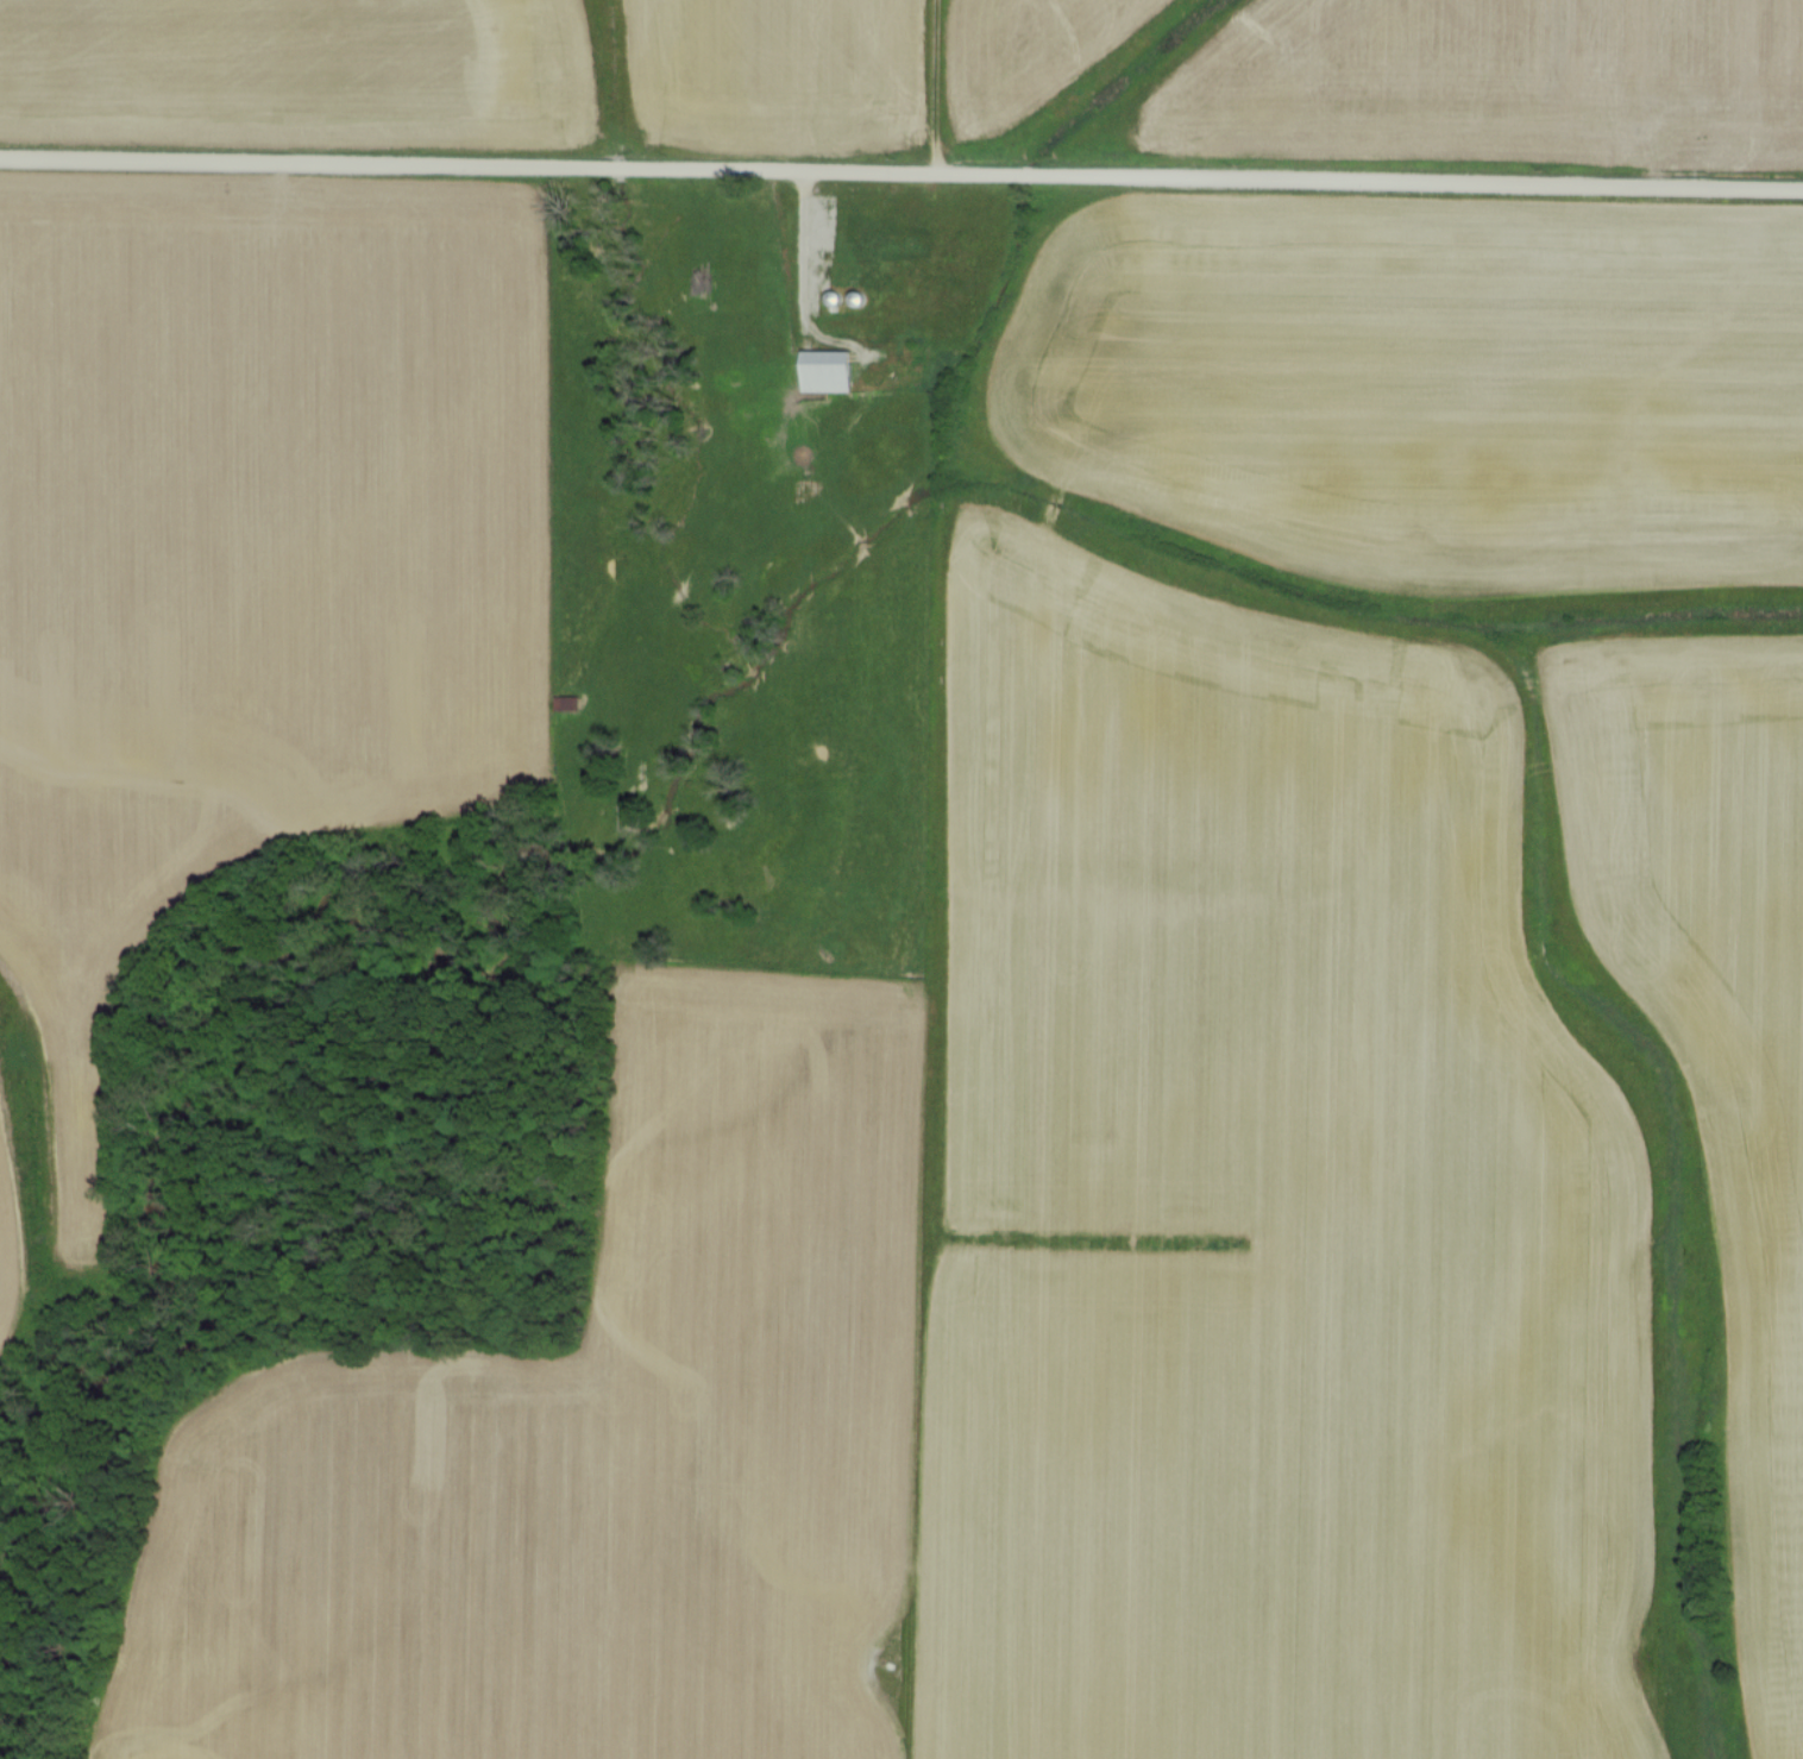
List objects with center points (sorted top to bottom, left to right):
road: (931, 87)
road: (900, 172)
road: (799, 249)
building: (823, 370)

